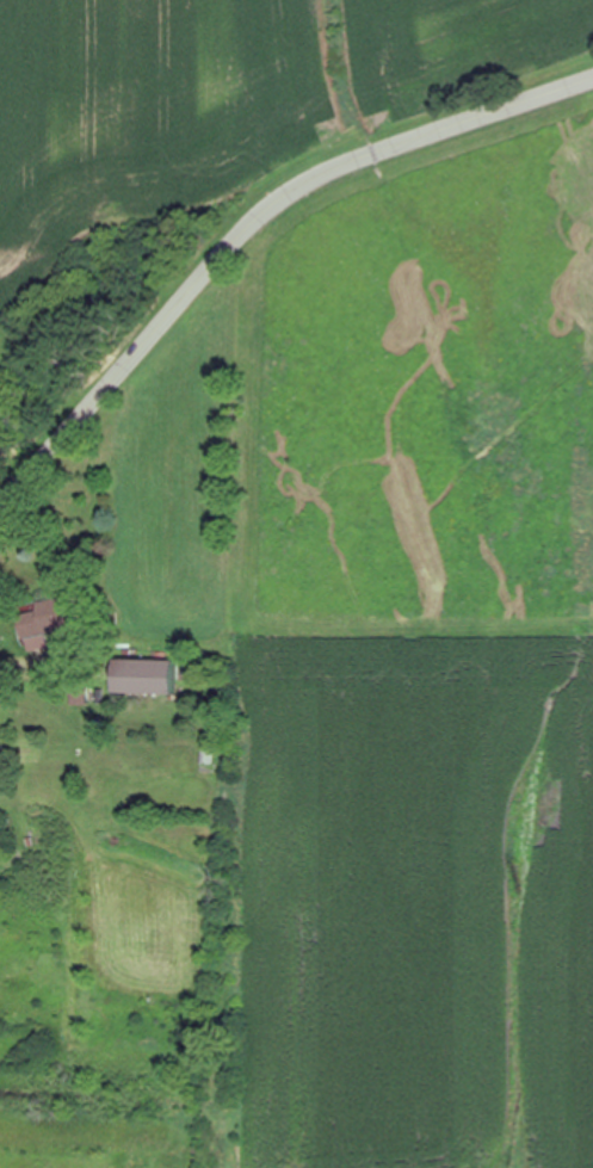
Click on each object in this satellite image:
road: (251, 227)
building: (48, 618)
road: (13, 666)
building: (143, 676)

